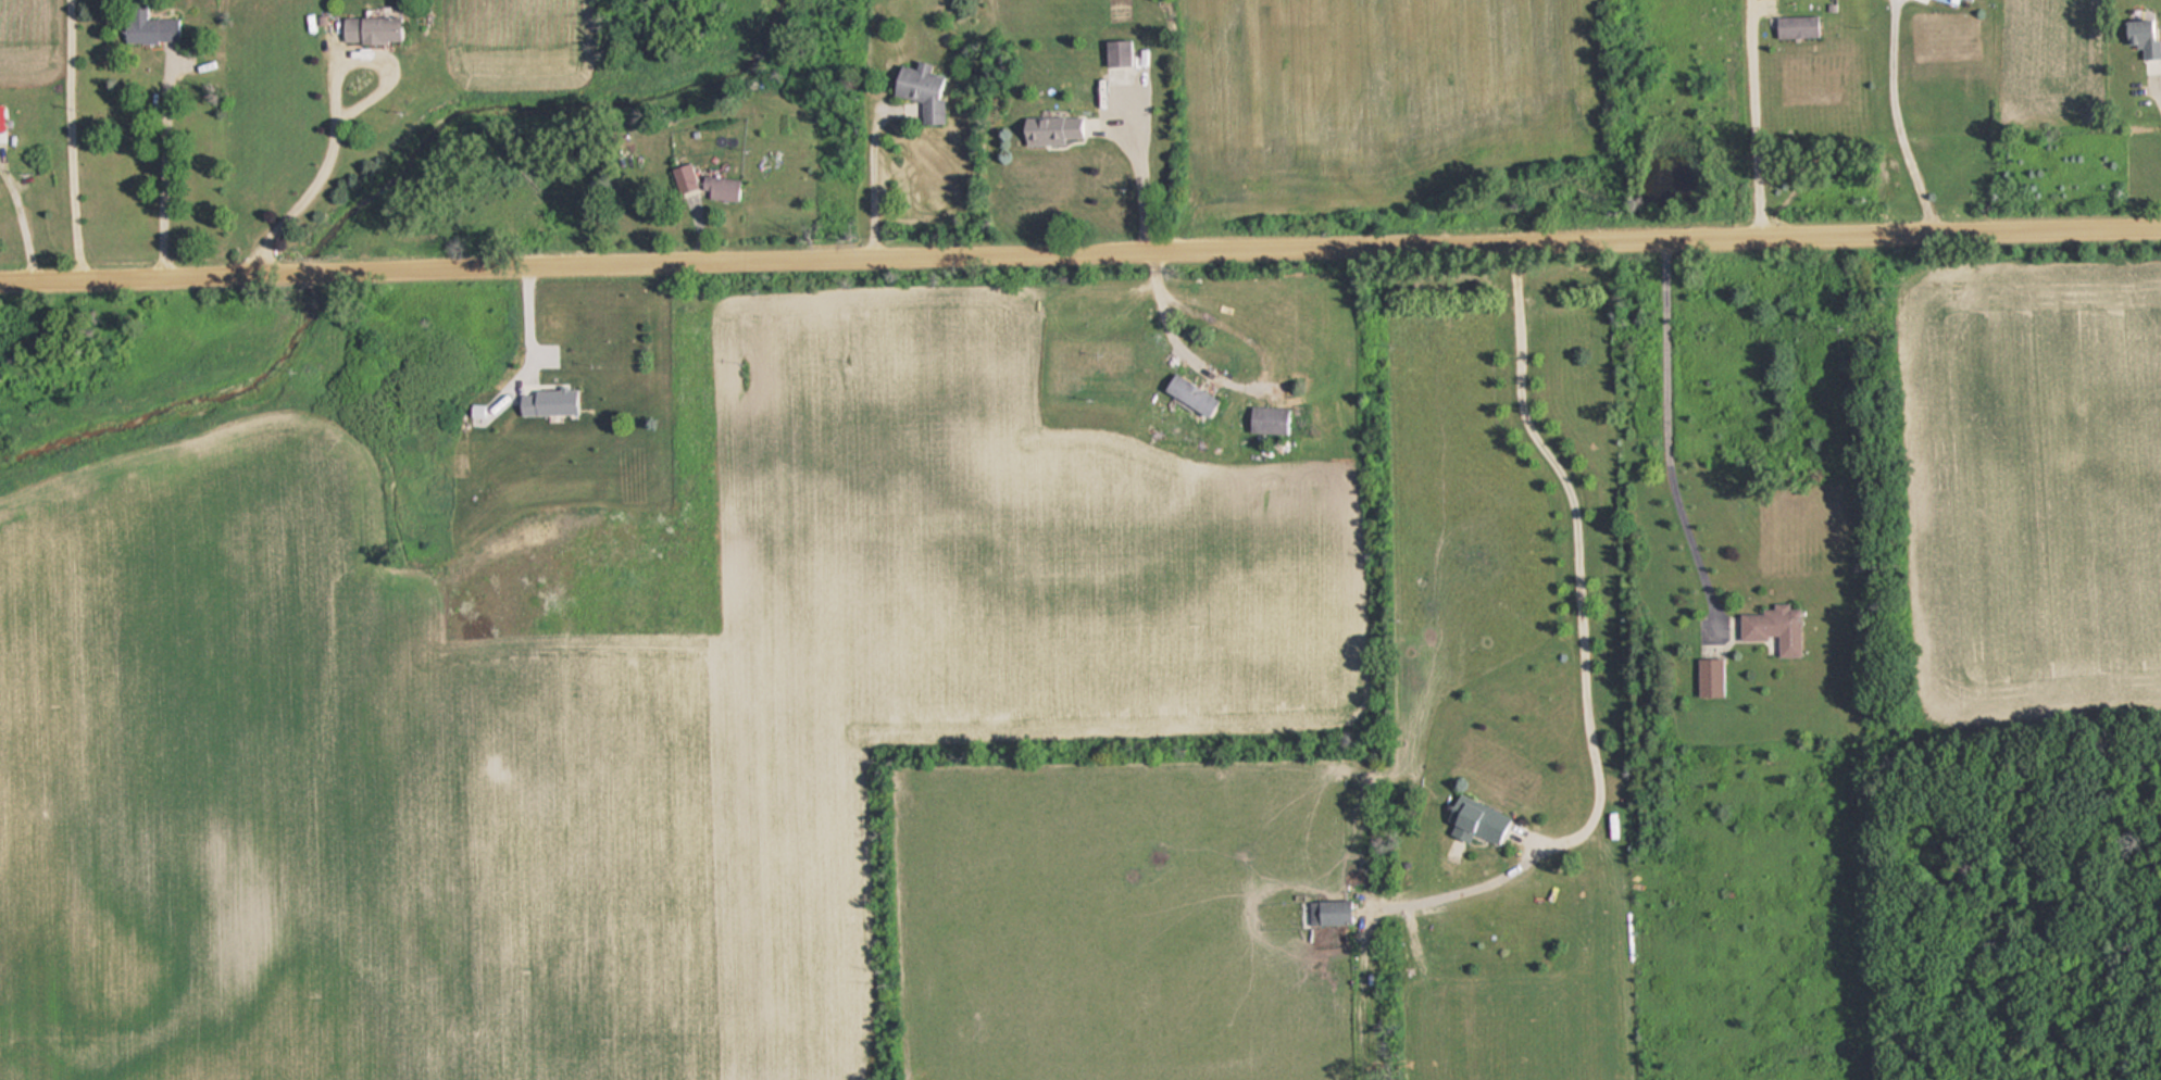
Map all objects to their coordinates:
building: (1969, 0)
building: (1794, 27)
building: (369, 28)
building: (159, 29)
building: (2139, 36)
building: (1116, 51)
building: (920, 89)
building: (1051, 129)
building: (683, 177)
building: (719, 187)
road: (1080, 253)
building: (550, 318)
building: (1186, 394)
building: (1264, 419)
building: (1773, 627)
building: (1475, 819)
building: (1612, 826)
building: (1326, 913)

